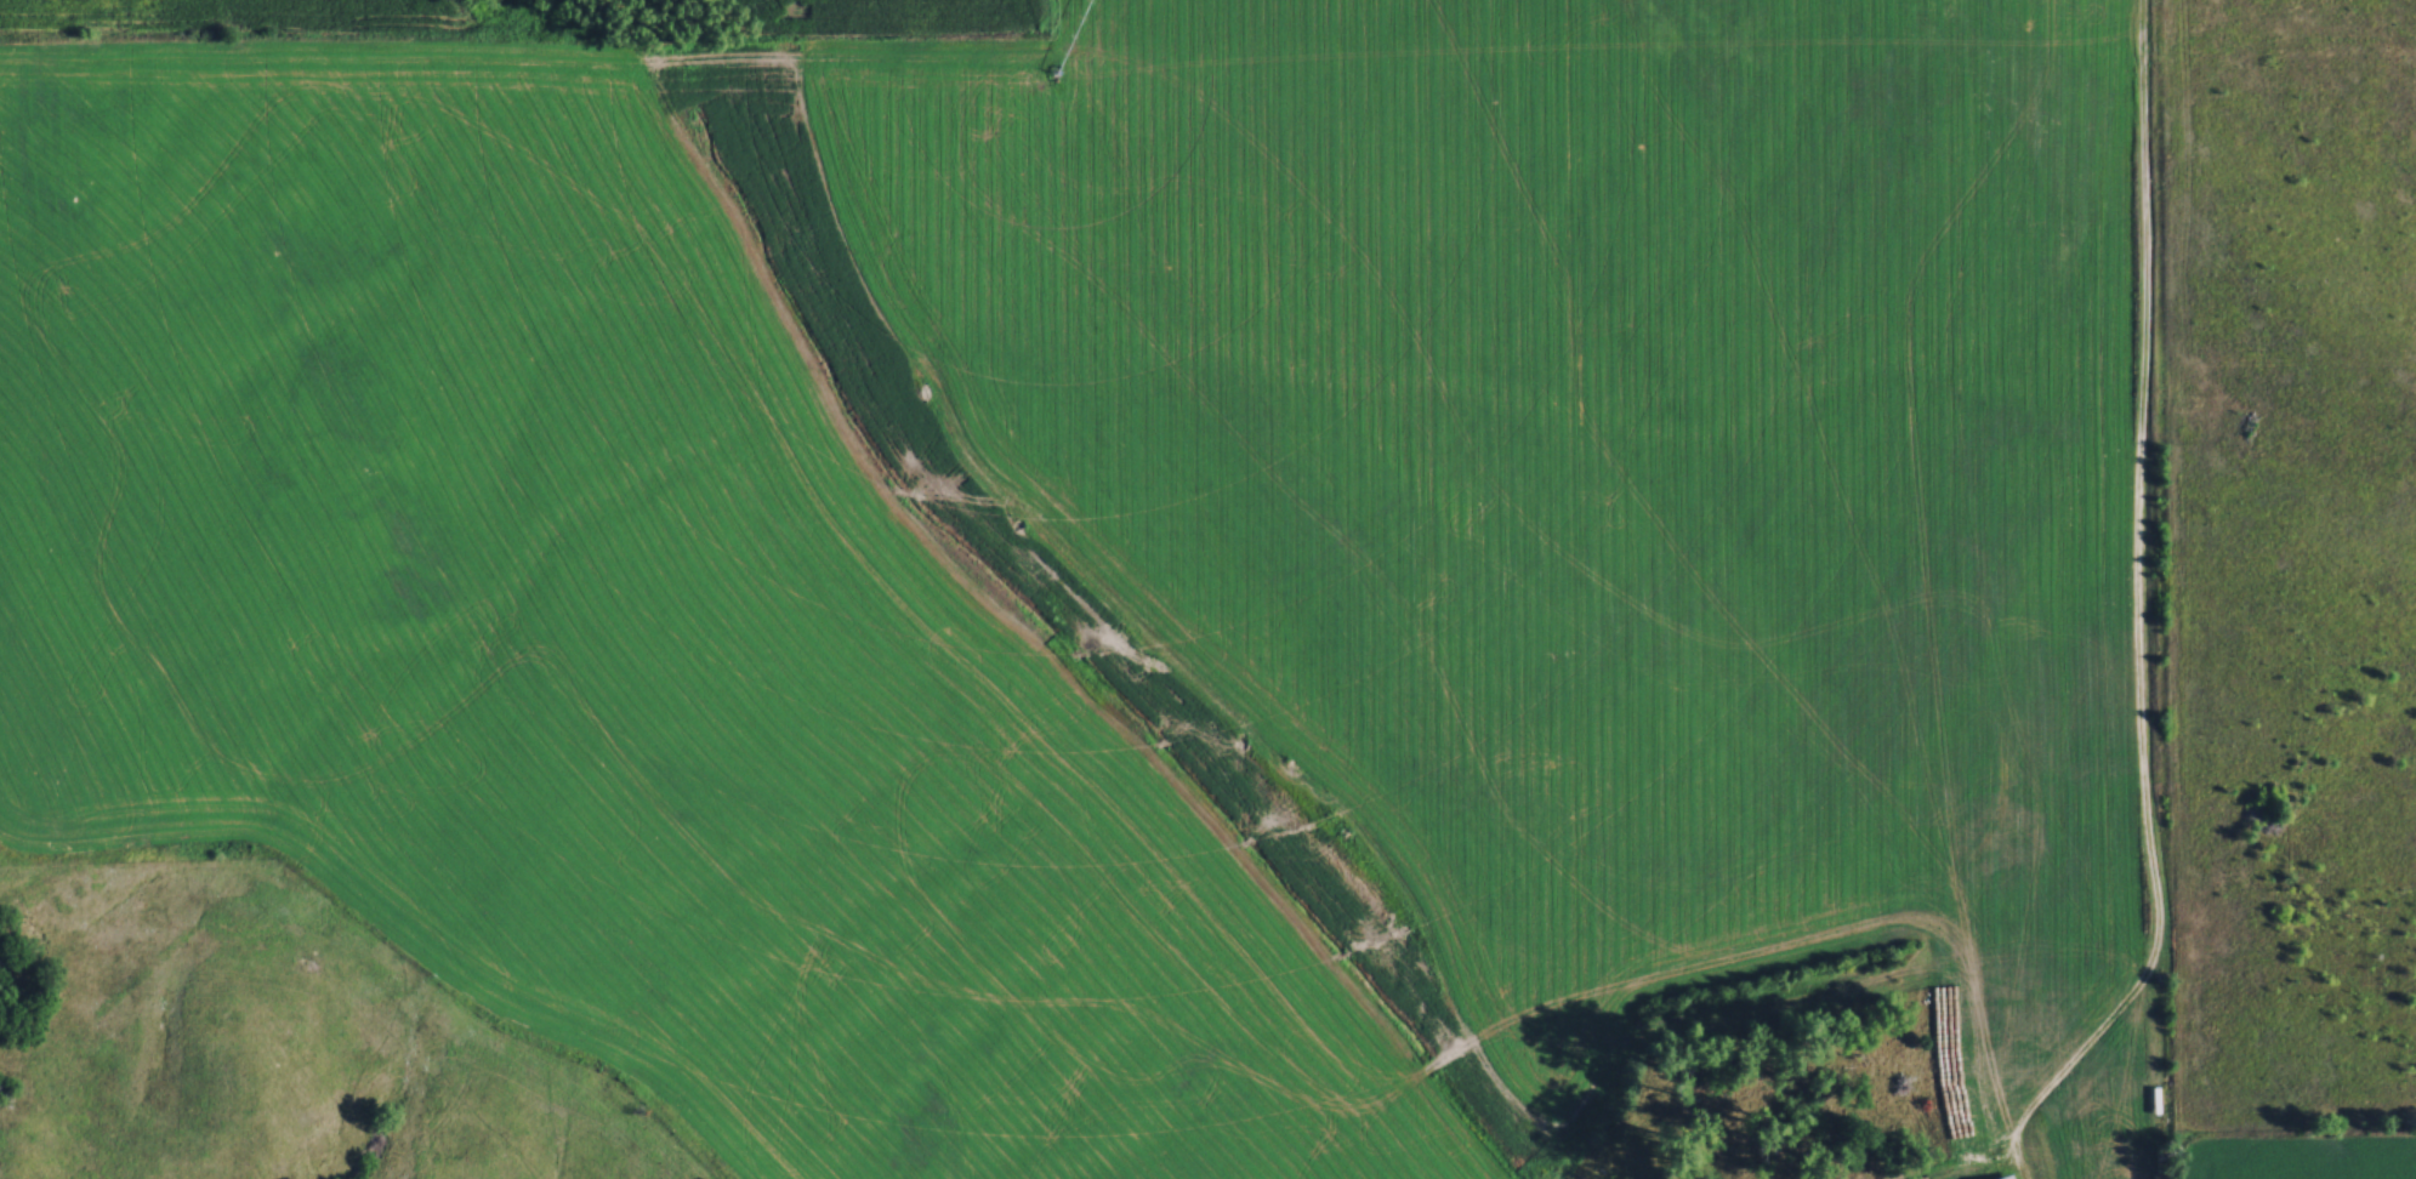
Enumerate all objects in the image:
road: (2148, 662)
building: (2153, 1104)
building: (2001, 1177)

